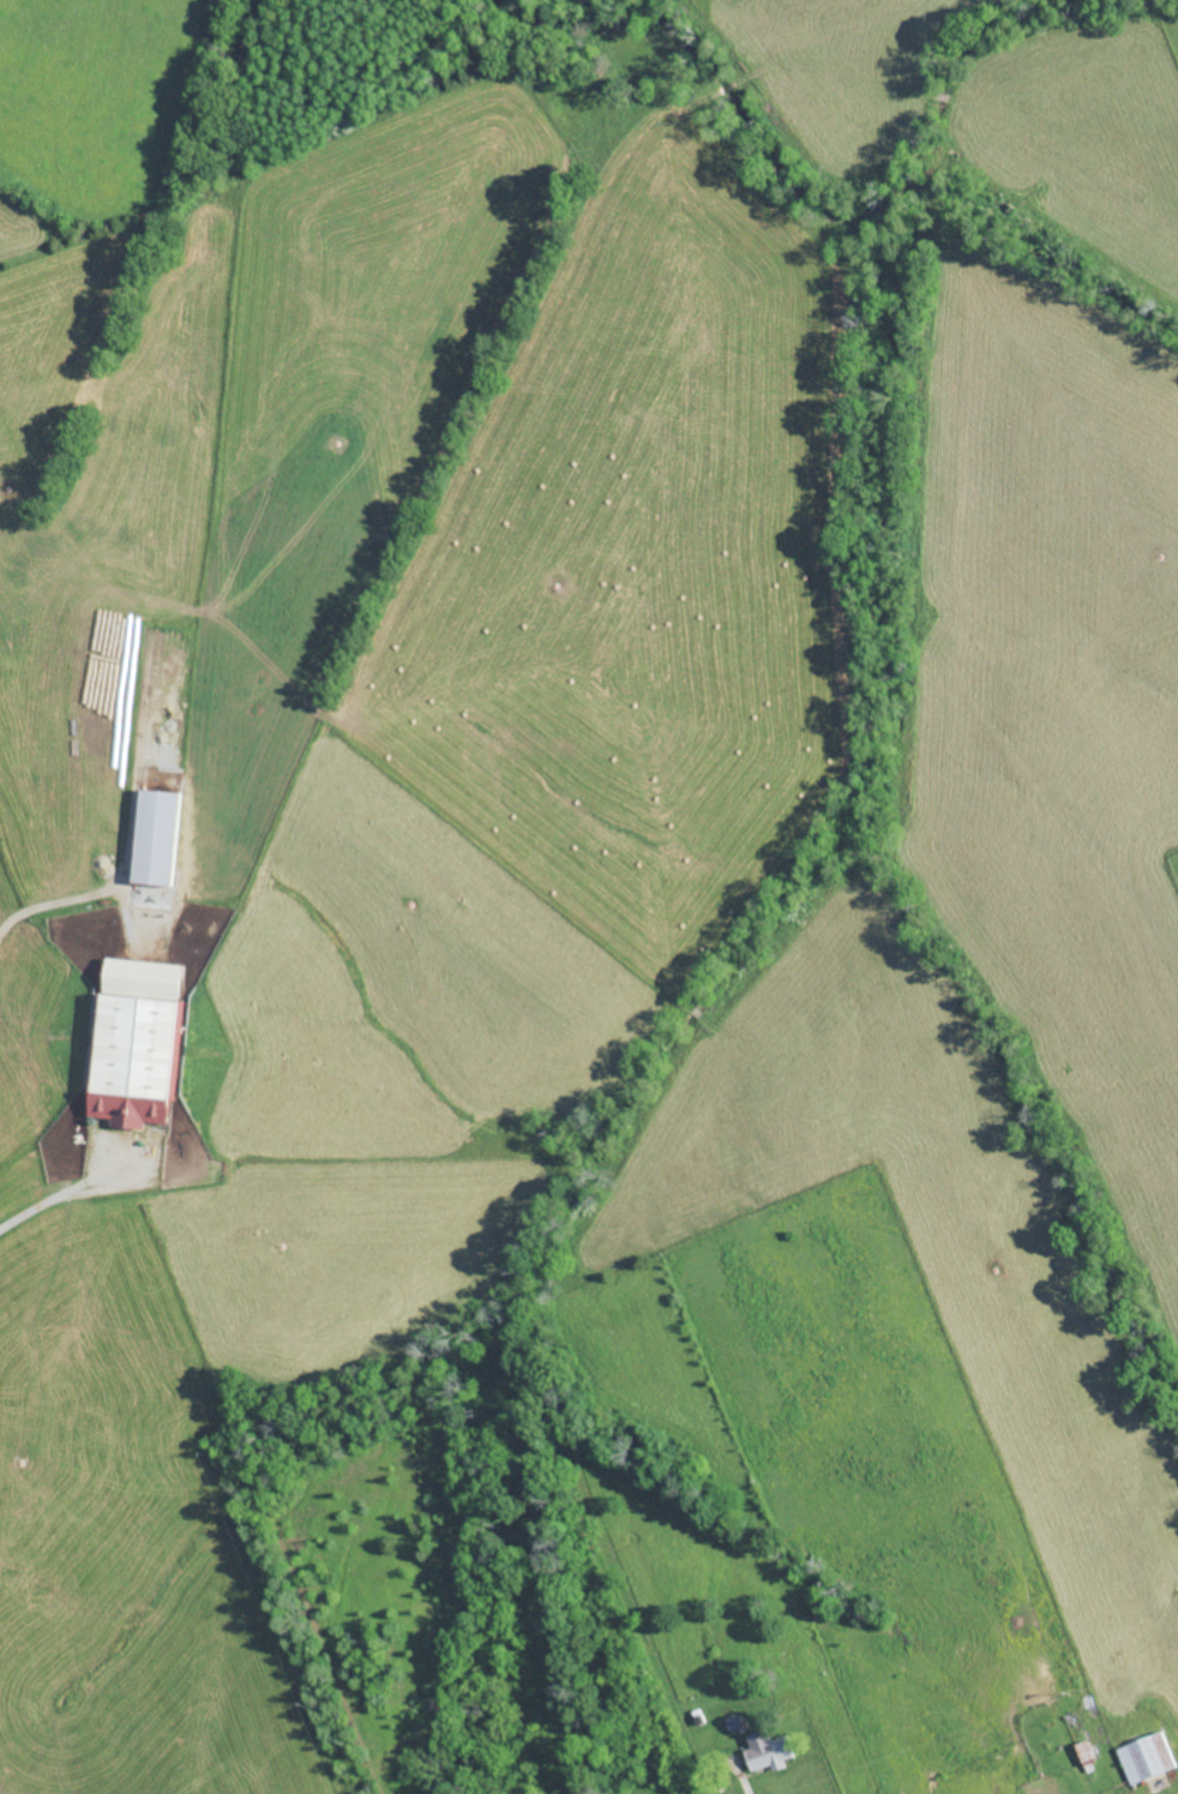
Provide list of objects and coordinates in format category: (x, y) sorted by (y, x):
building: (156, 836)
road: (58, 900)
building: (136, 1042)
road: (32, 1220)
building: (768, 1750)
building: (1147, 1757)
road: (744, 1781)

